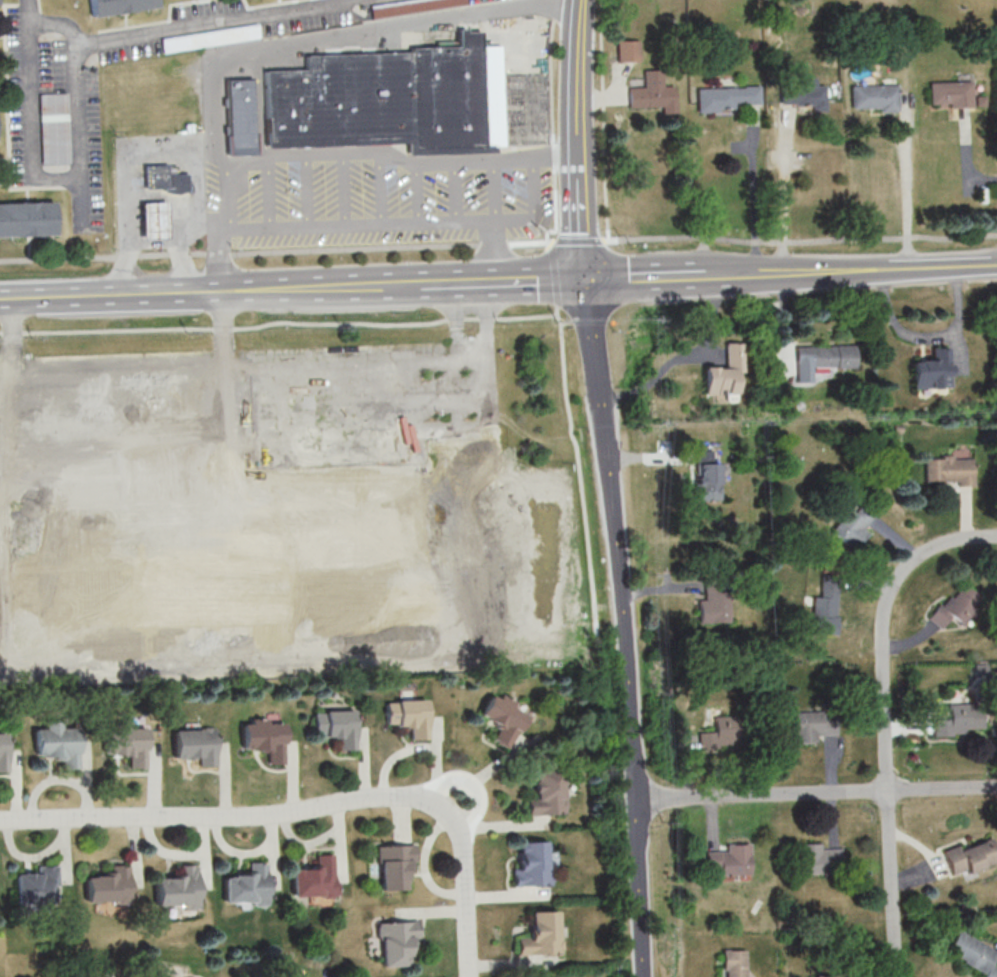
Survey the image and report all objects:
road: (578, 2)
building: (115, 7)
road: (397, 26)
road: (172, 27)
building: (625, 52)
road: (576, 79)
building: (650, 95)
building: (948, 95)
building: (800, 97)
building: (871, 98)
building: (726, 99)
building: (389, 101)
road: (212, 113)
building: (235, 118)
road: (602, 119)
road: (552, 123)
building: (52, 129)
road: (159, 150)
road: (201, 152)
road: (400, 158)
road: (46, 178)
building: (161, 179)
road: (380, 186)
road: (342, 188)
road: (494, 189)
road: (906, 189)
road: (304, 190)
road: (455, 191)
road: (227, 192)
road: (267, 192)
road: (417, 192)
road: (784, 194)
road: (754, 195)
road: (536, 208)
road: (580, 217)
building: (25, 220)
building: (149, 221)
road: (392, 221)
road: (211, 223)
road: (498, 242)
road: (224, 256)
road: (891, 266)
road: (744, 272)
road: (644, 276)
road: (552, 278)
traffic signals: (585, 279)
road: (503, 281)
road: (324, 287)
road: (113, 295)
road: (587, 319)
building: (810, 358)
road: (564, 368)
building: (928, 373)
building: (721, 374)
building: (945, 472)
building: (703, 483)
building: (451, 485)
building: (850, 528)
building: (202, 589)
building: (712, 602)
building: (822, 607)
building: (956, 607)
road: (884, 626)
road: (623, 627)
building: (411, 715)
building: (498, 718)
building: (959, 720)
building: (339, 726)
building: (810, 726)
building: (723, 732)
building: (268, 738)
building: (60, 743)
building: (129, 744)
building: (198, 744)
building: (4, 751)
road: (634, 777)
road: (470, 783)
road: (815, 792)
building: (542, 793)
road: (225, 816)
building: (965, 857)
building: (817, 860)
building: (728, 861)
building: (528, 863)
building: (397, 867)
building: (318, 878)
road: (890, 883)
building: (38, 885)
building: (250, 885)
building: (111, 886)
building: (180, 888)
road: (465, 892)
building: (537, 934)
building: (399, 943)
building: (968, 954)
building: (731, 963)
building: (827, 975)

